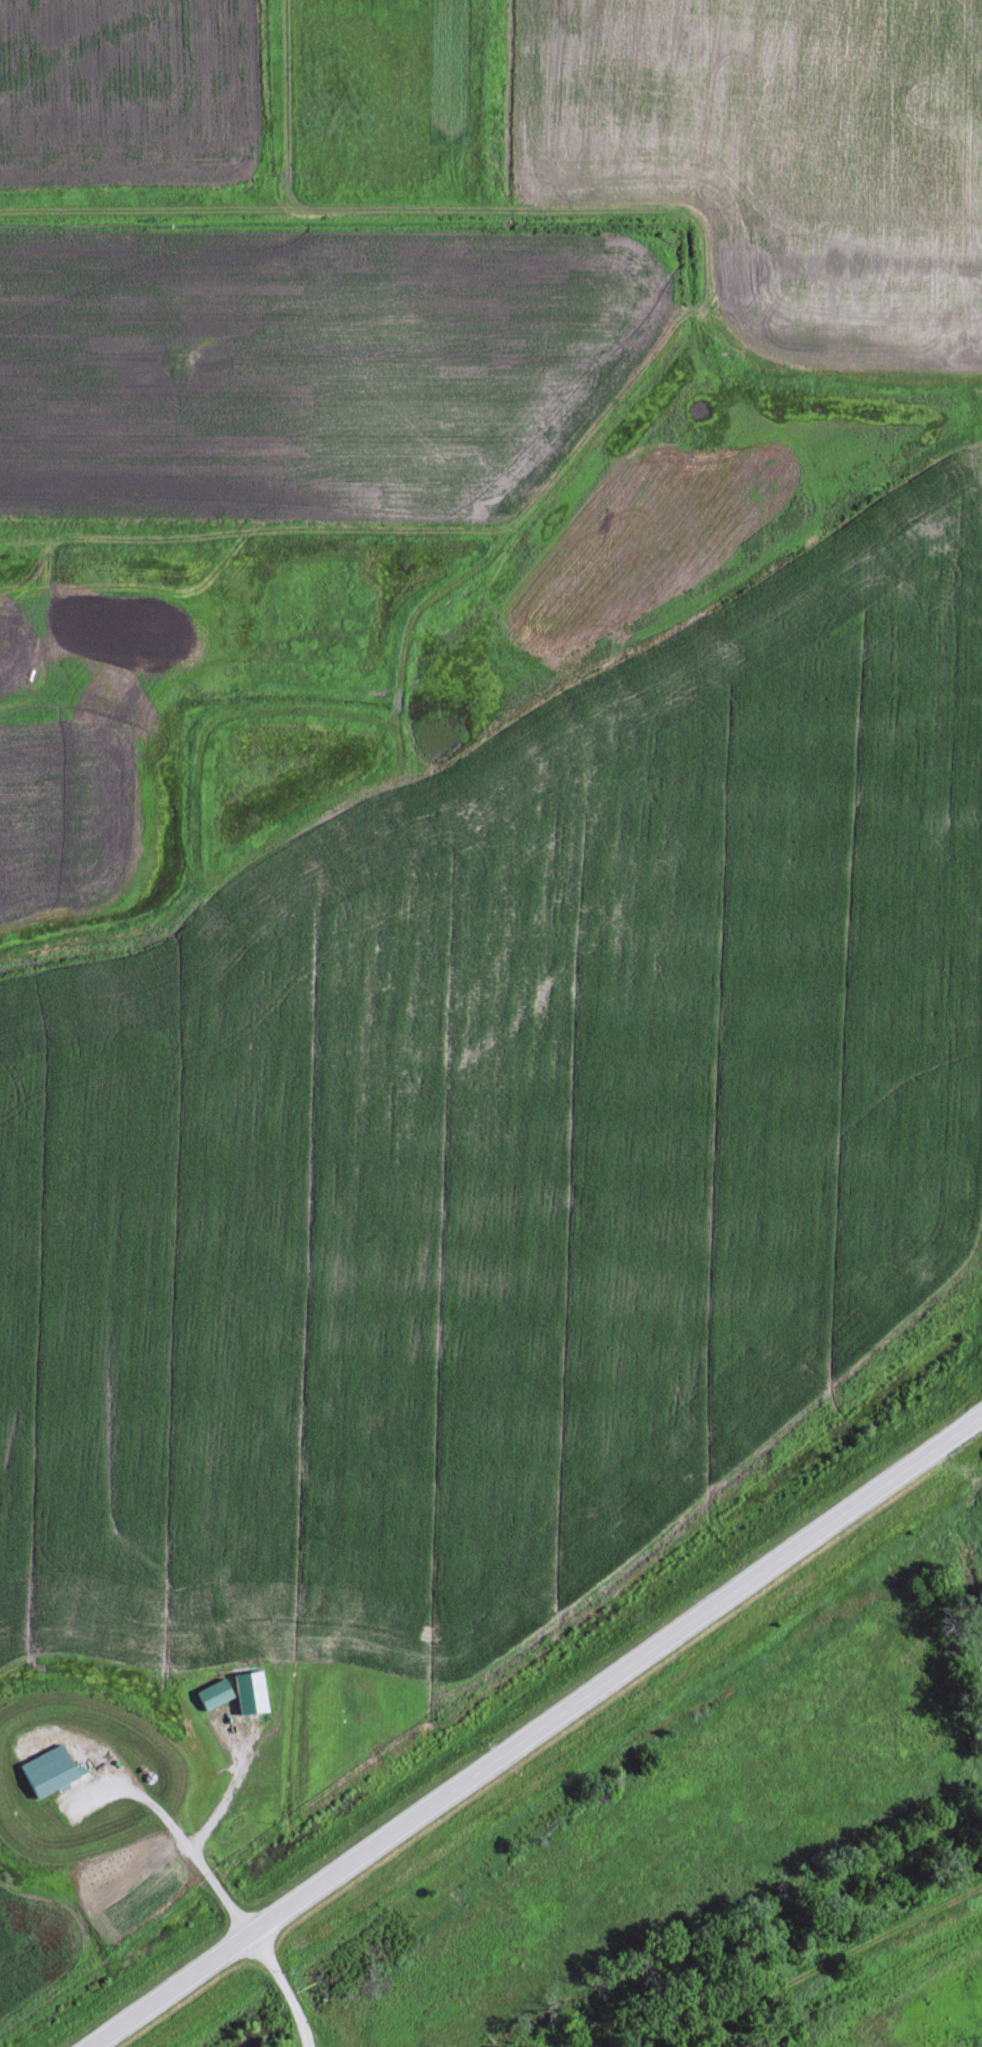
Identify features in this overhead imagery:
building: (208, 1691)
road: (559, 1746)
building: (42, 1768)
road: (821, 1964)
road: (289, 2000)

